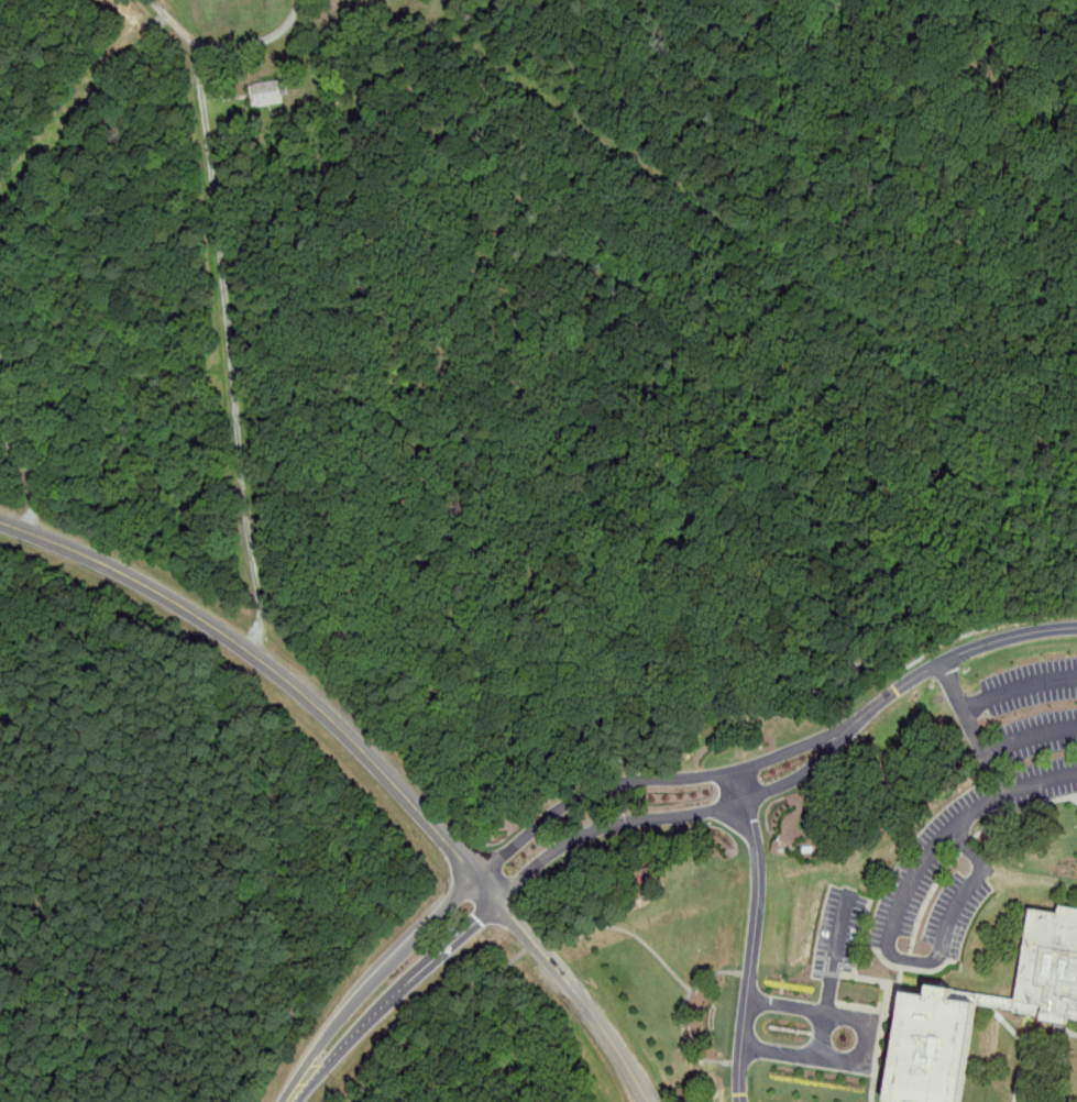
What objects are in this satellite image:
road: (168, 15)
road: (250, 44)
building: (267, 92)
road: (230, 346)
building: (1, 365)
road: (32, 474)
road: (967, 649)
road: (277, 671)
road: (1020, 684)
parking lot: (1026, 735)
road: (804, 743)
road: (986, 745)
road: (813, 762)
road: (997, 771)
road: (592, 789)
road: (1010, 792)
road: (611, 823)
parking lot: (956, 870)
parking lot: (840, 929)
road: (755, 934)
road: (529, 943)
road: (432, 958)
road: (926, 960)
road: (835, 973)
road: (371, 979)
road: (579, 996)
building: (988, 1002)
road: (436, 1017)
road: (867, 1037)
road: (329, 1061)

